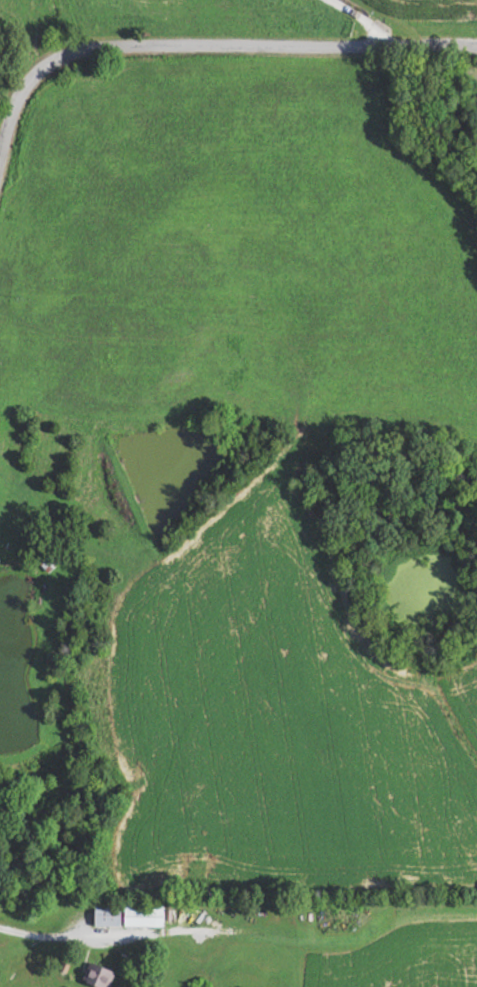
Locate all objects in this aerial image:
road: (370, 21)
road: (202, 46)
building: (122, 915)
building: (94, 975)

